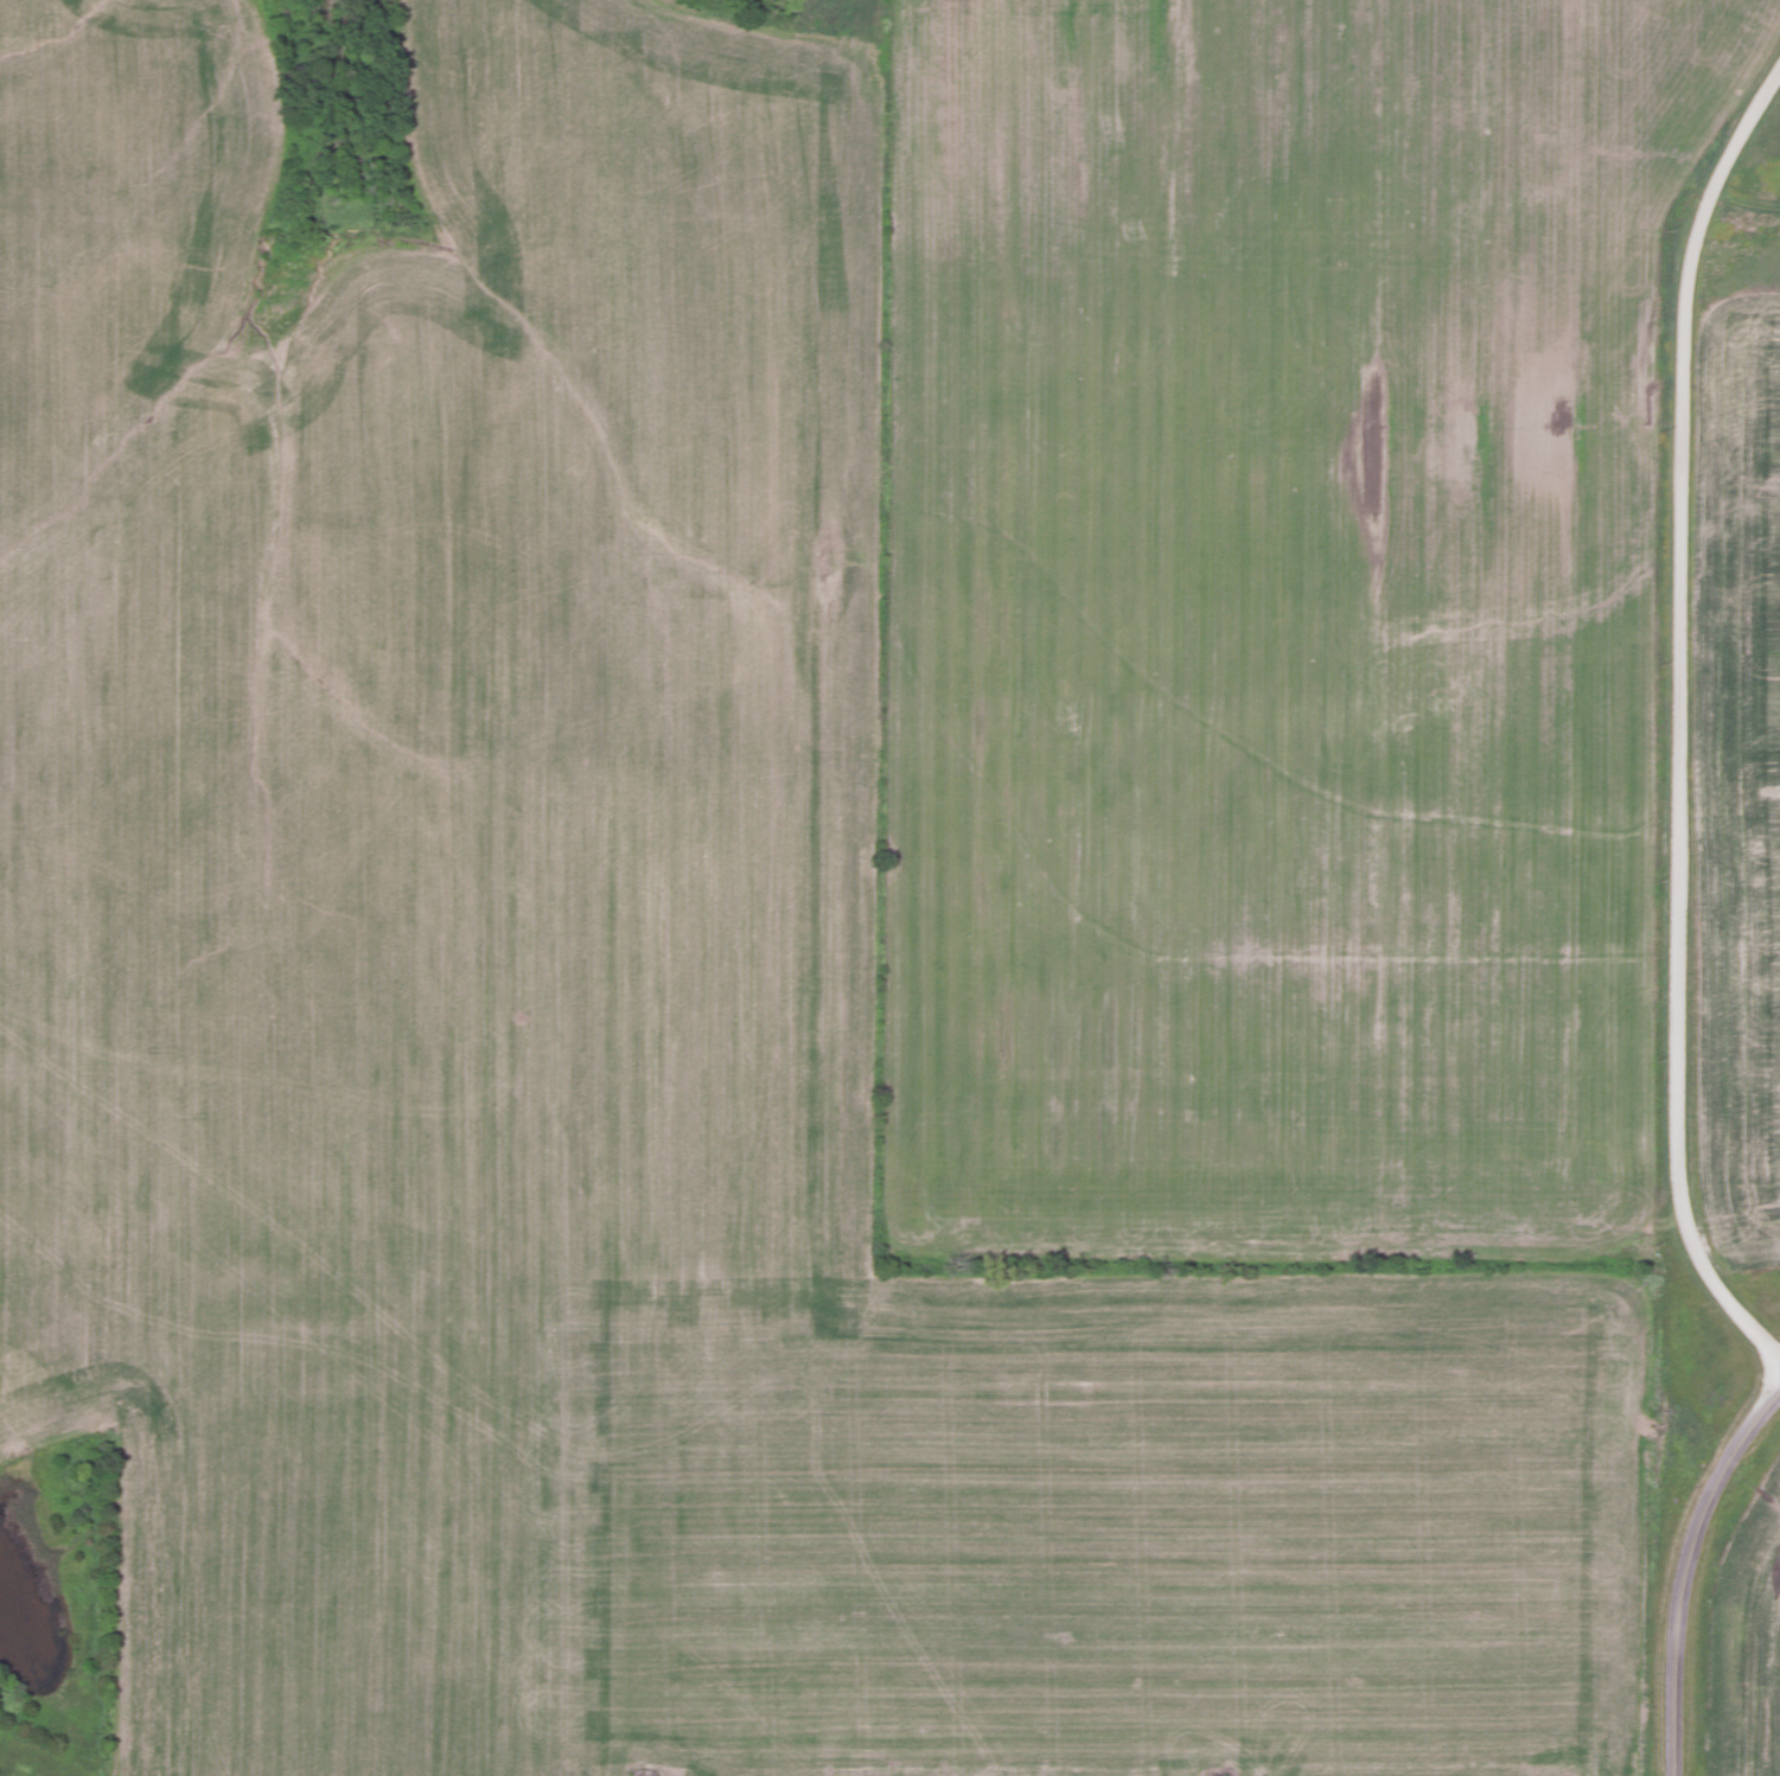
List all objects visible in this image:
road: (1676, 721)
road: (1678, 1569)

